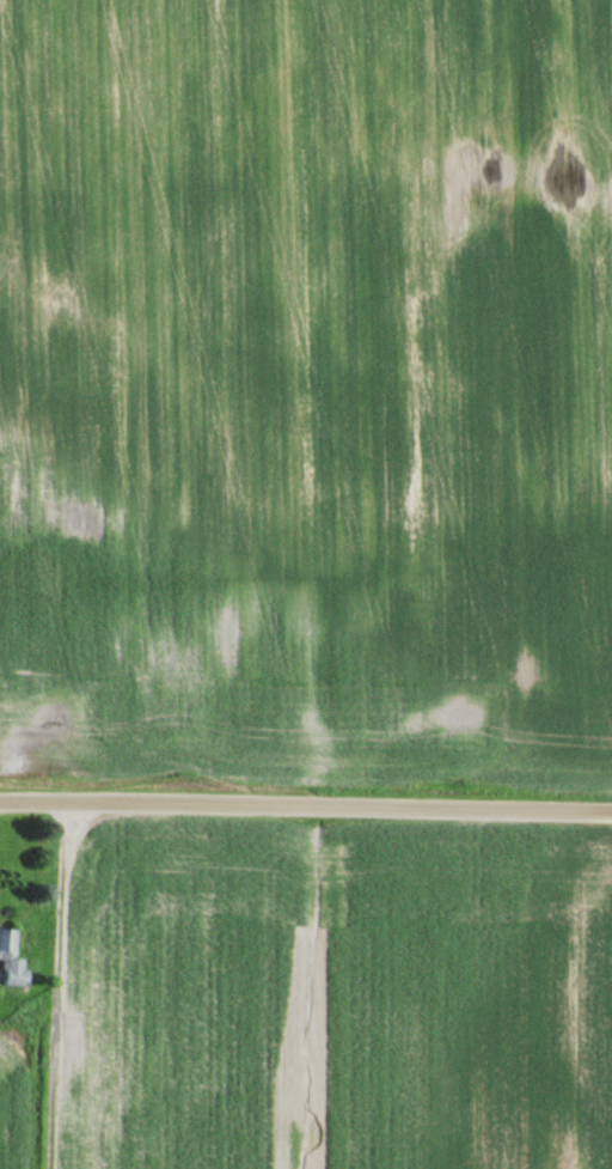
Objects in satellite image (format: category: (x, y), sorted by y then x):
road: (306, 809)
building: (13, 958)

